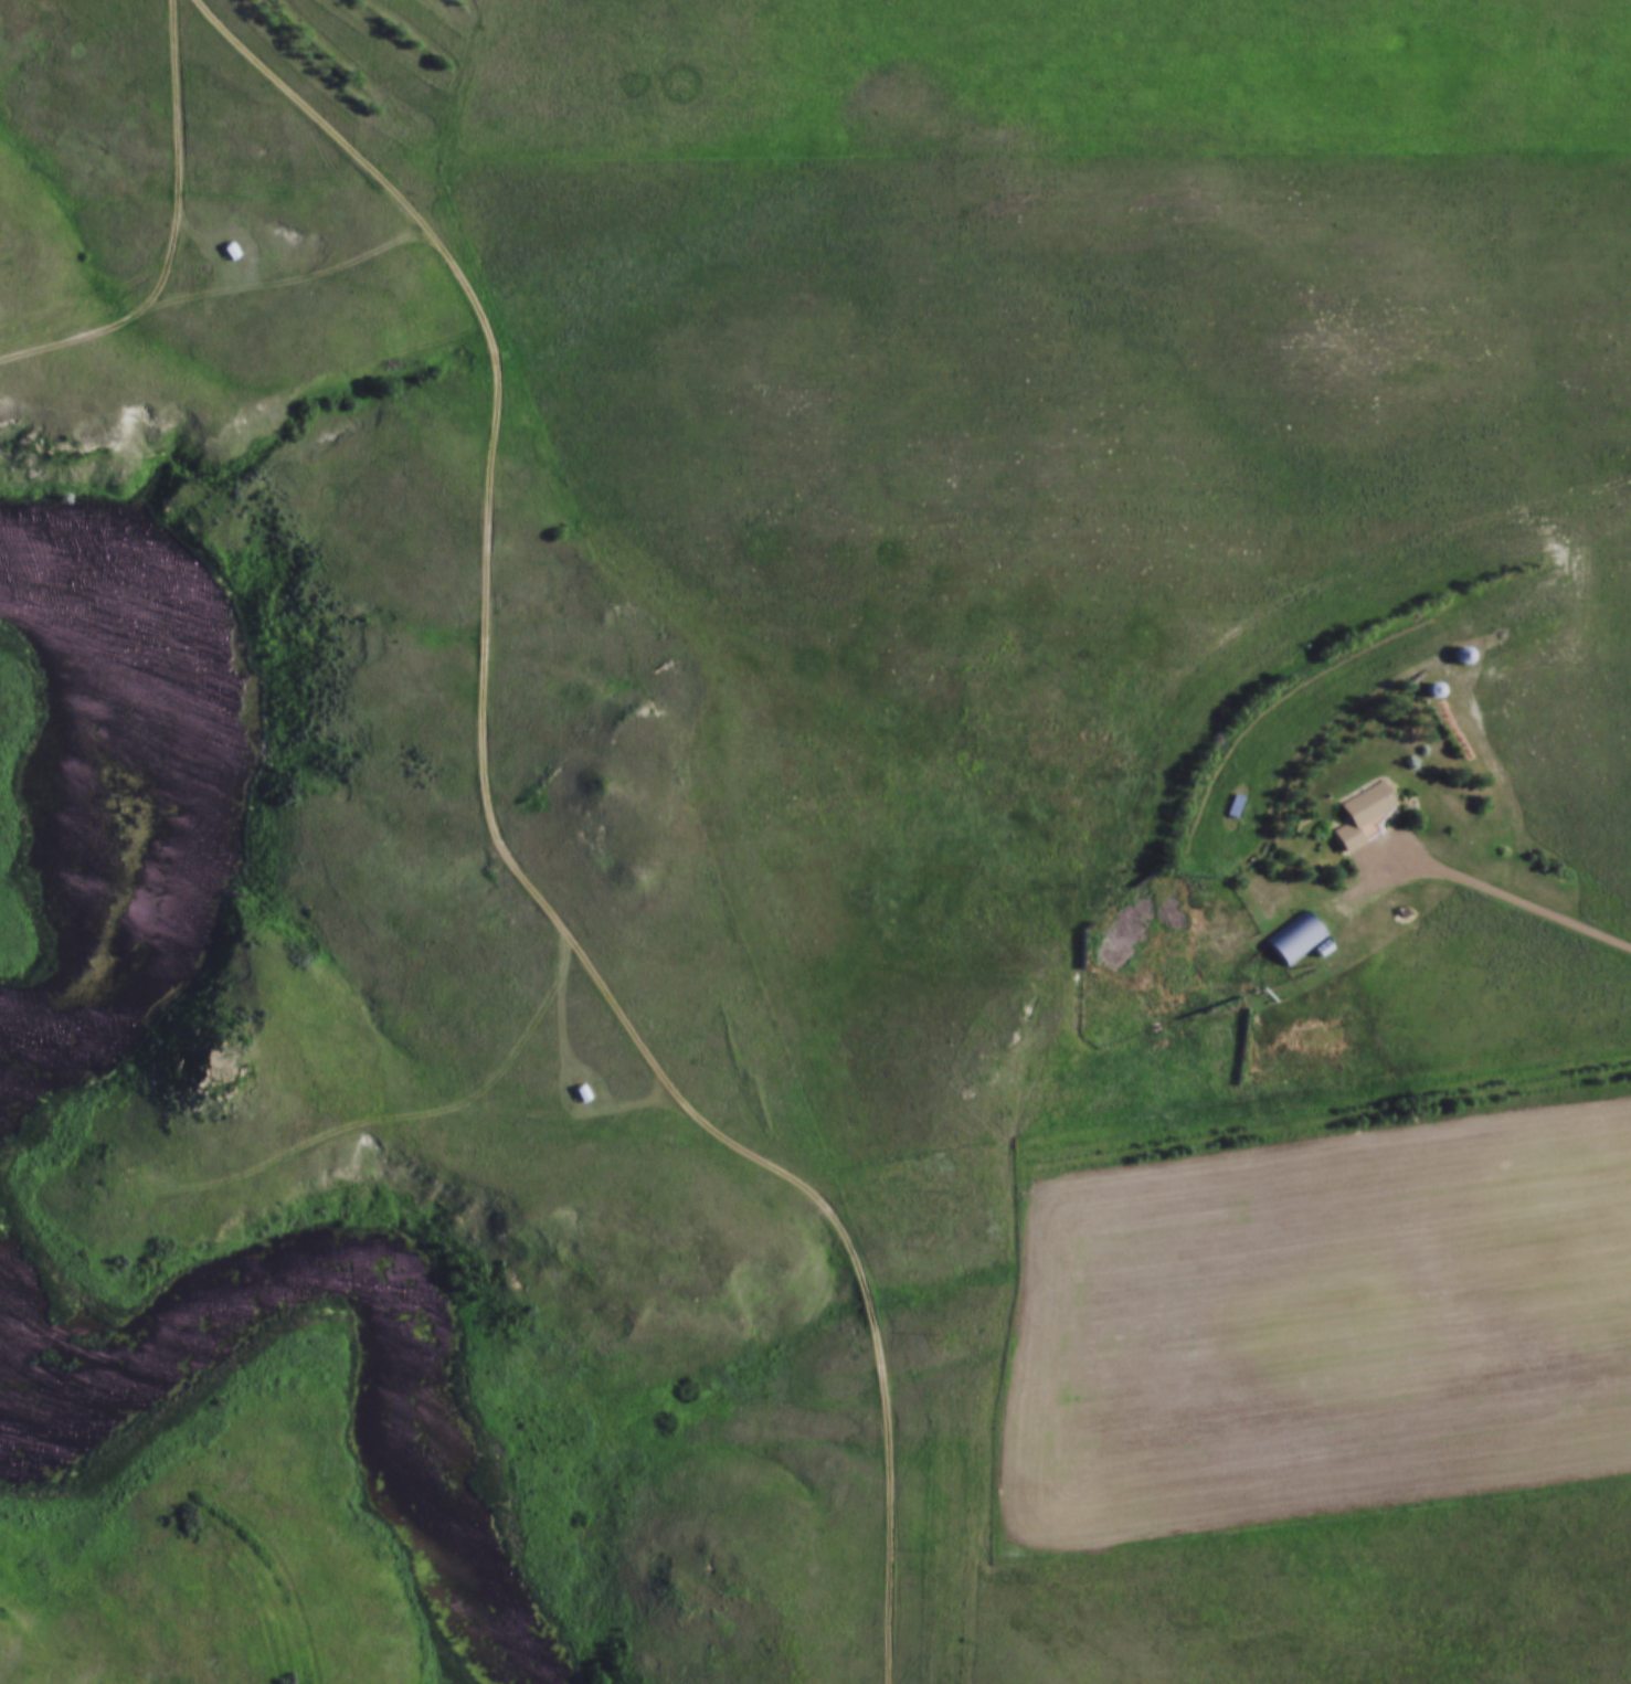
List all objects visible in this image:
road: (177, 232)
road: (1389, 551)
building: (1459, 652)
building: (960, 759)
building: (1359, 814)
park: (456, 839)
road: (508, 854)
road: (1497, 892)
building: (1294, 939)
road: (438, 1109)

